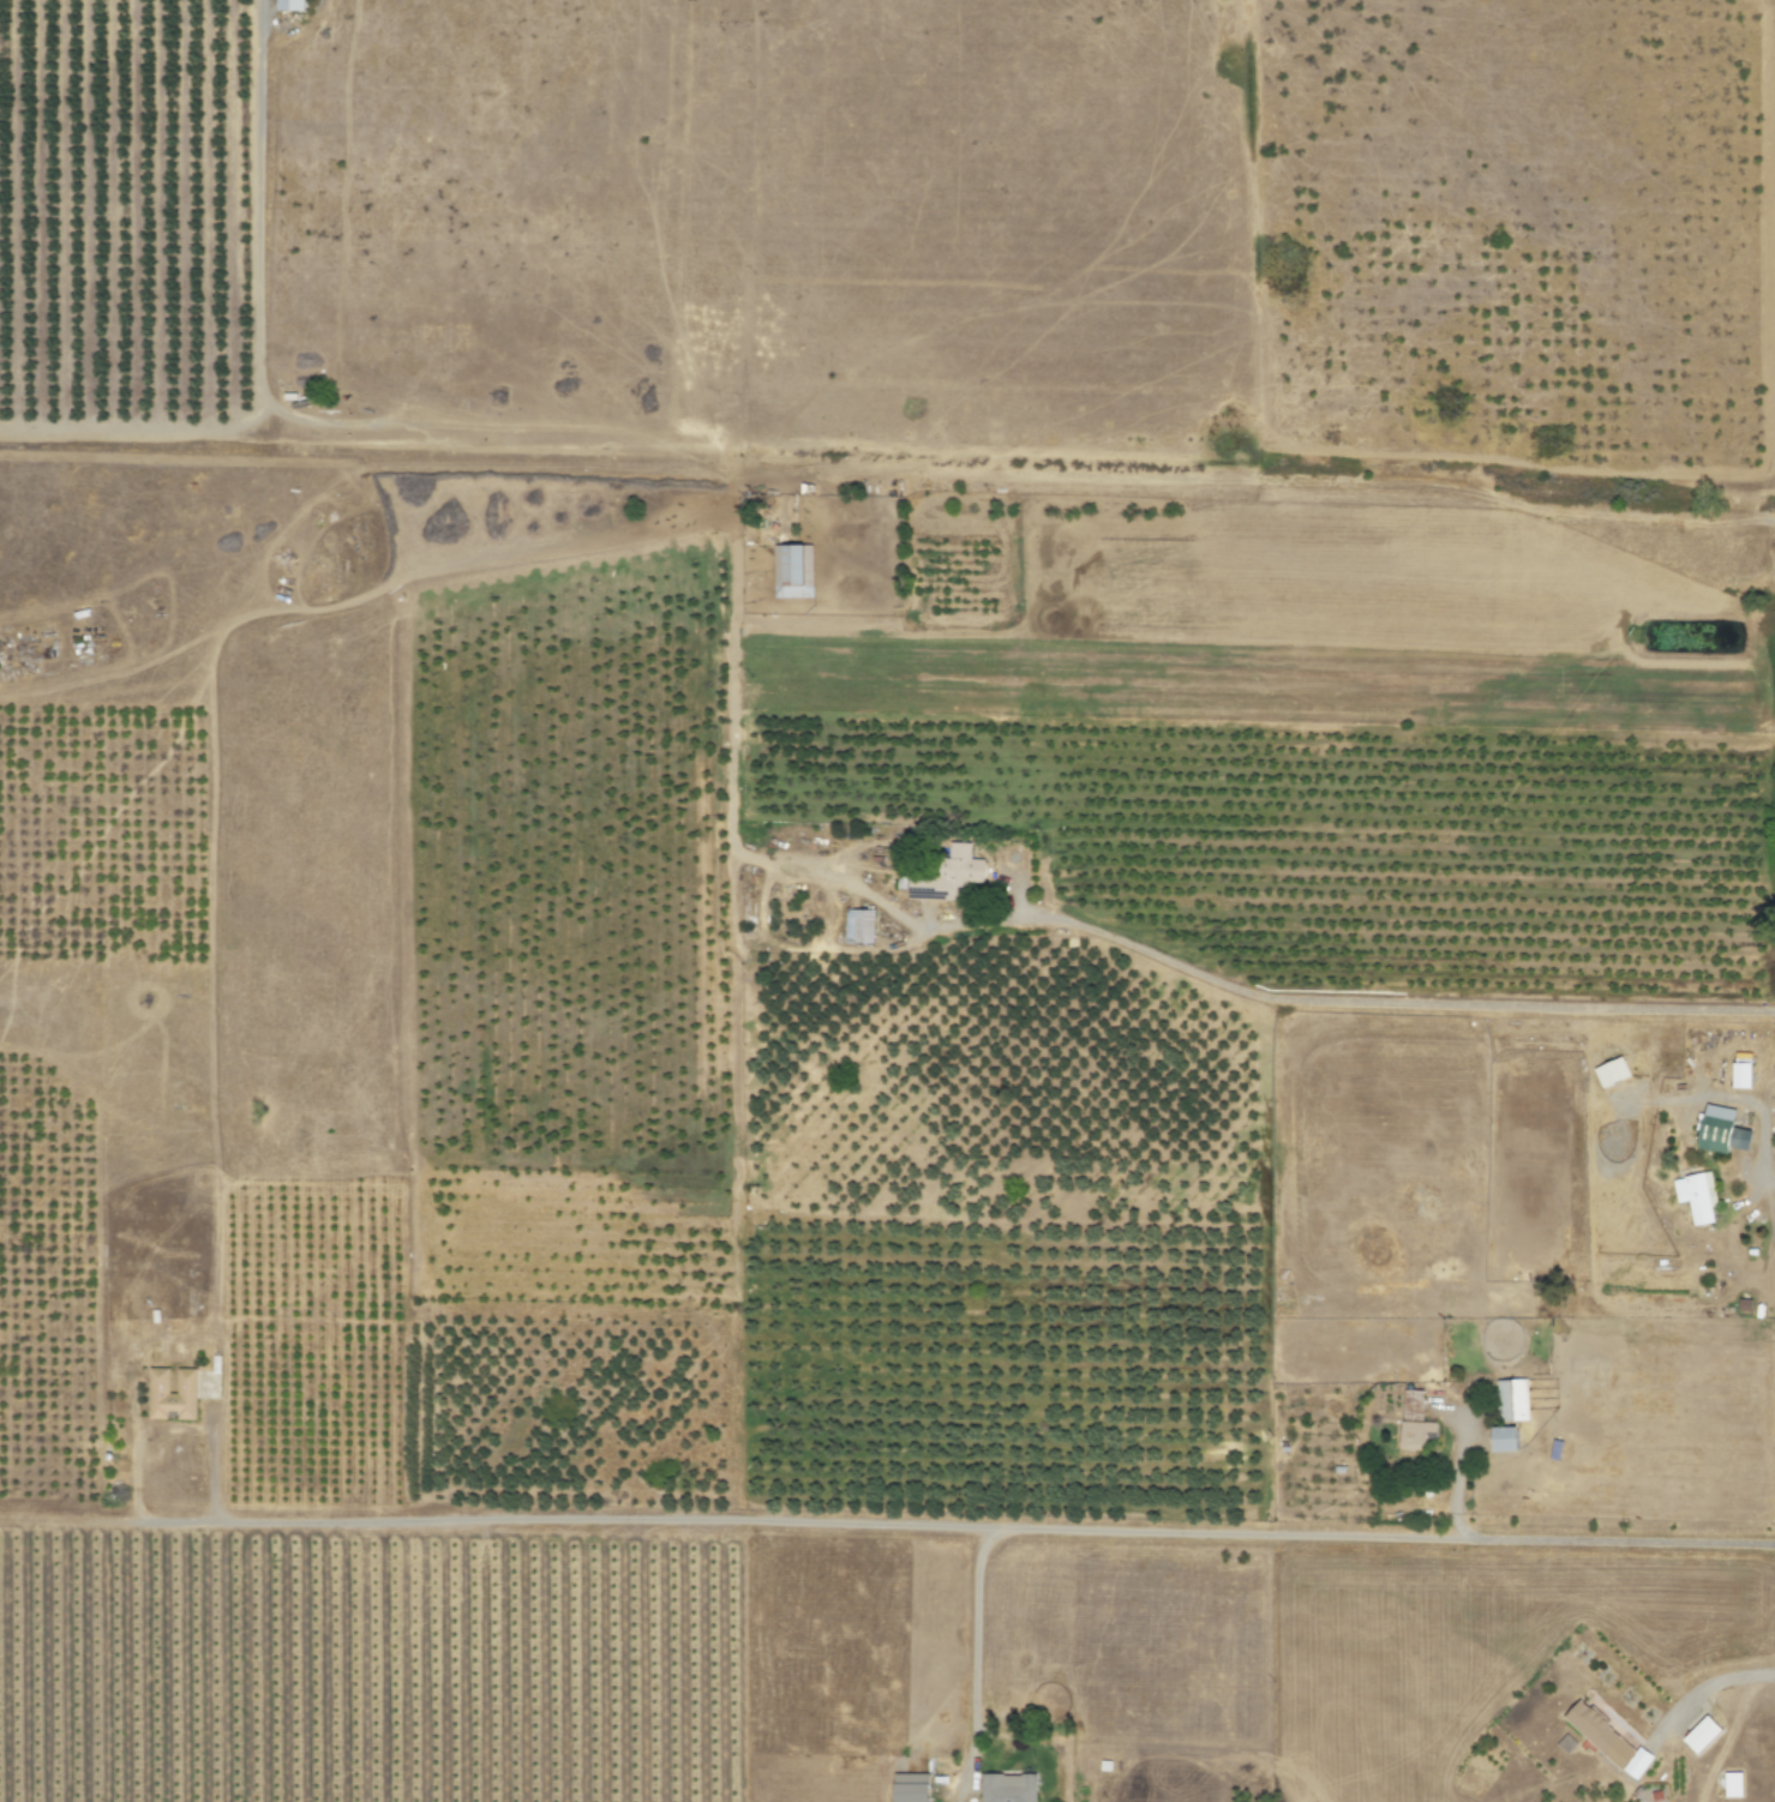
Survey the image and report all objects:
building: (288, 5)
building: (791, 571)
road: (732, 655)
road: (764, 894)
building: (857, 927)
road: (1344, 1002)
building: (1740, 1071)
building: (1720, 1131)
road: (578, 1163)
building: (1695, 1197)
road: (734, 1243)
building: (169, 1393)
building: (1511, 1400)
building: (1413, 1422)
building: (1503, 1438)
road: (214, 1524)
road: (1092, 1530)
road: (975, 1652)
road: (1698, 1687)
building: (1607, 1741)
building: (1732, 1784)
building: (910, 1788)
building: (1007, 1788)
building: (1656, 1796)

